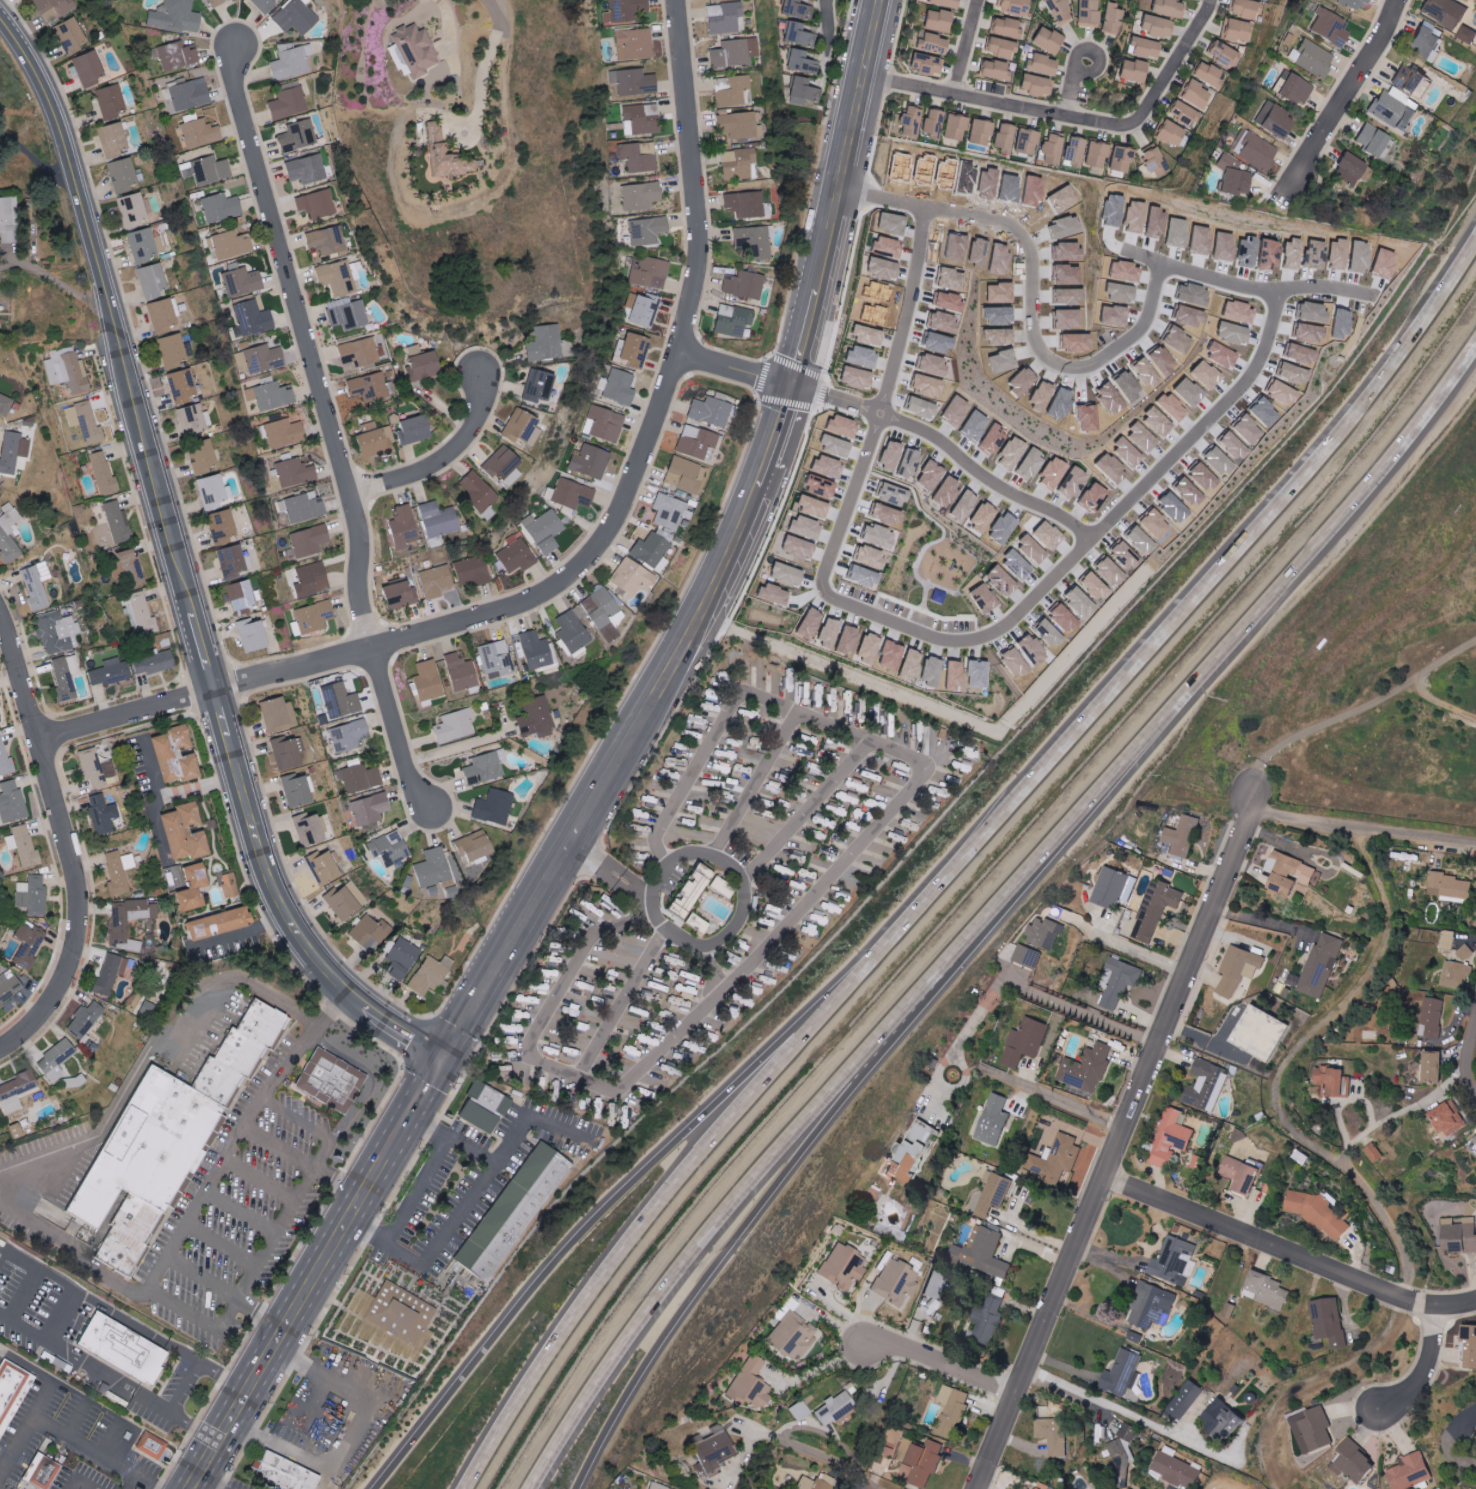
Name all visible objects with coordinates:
building: (1260, 0)
building: (218, 2)
building: (940, 3)
building: (266, 4)
building: (1350, 4)
building: (1010, 6)
building: (56, 8)
building: (1164, 8)
building: (1241, 8)
building: (797, 9)
building: (626, 11)
building: (1443, 11)
building: (1055, 12)
building: (1086, 13)
road: (827, 15)
building: (177, 17)
building: (298, 17)
building: (726, 18)
building: (1111, 20)
building: (930, 21)
road: (447, 23)
building: (1153, 27)
building: (1327, 27)
building: (1002, 28)
building: (1232, 31)
building: (800, 34)
building: (1466, 35)
building: (1042, 40)
building: (1424, 41)
building: (926, 43)
building: (636, 44)
building: (997, 47)
road: (1095, 48)
building: (1139, 48)
road: (965, 49)
building: (417, 50)
building: (734, 52)
building: (1219, 54)
building: (177, 56)
road: (488, 57)
building: (292, 61)
building: (804, 61)
road: (1171, 63)
building: (918, 64)
building: (1036, 65)
building: (89, 68)
building: (990, 70)
building: (1125, 71)
building: (1204, 74)
building: (1405, 79)
building: (635, 82)
building: (1030, 85)
building: (1292, 90)
building: (732, 91)
building: (804, 91)
road: (1071, 92)
building: (1191, 94)
building: (190, 95)
building: (111, 101)
building: (290, 103)
road: (995, 105)
road: (1340, 107)
building: (1392, 109)
building: (1179, 114)
building: (644, 118)
building: (1270, 120)
building: (904, 122)
building: (925, 124)
building: (741, 125)
building: (948, 127)
building: (973, 132)
building: (200, 133)
building: (1166, 134)
building: (299, 135)
road: (458, 138)
building: (114, 140)
building: (997, 140)
building: (1369, 140)
building: (1020, 142)
building: (1046, 150)
building: (1253, 151)
building: (1069, 152)
building: (447, 155)
building: (1091, 155)
building: (641, 157)
building: (1117, 159)
road: (34, 160)
building: (1151, 162)
building: (739, 163)
building: (308, 169)
building: (940, 169)
building: (1345, 169)
building: (207, 170)
building: (124, 175)
building: (1230, 177)
building: (945, 182)
building: (642, 196)
building: (317, 204)
building: (748, 204)
building: (133, 208)
building: (221, 208)
building: (8, 220)
building: (648, 230)
building: (329, 240)
building: (756, 240)
building: (145, 244)
building: (229, 245)
building: (884, 249)
road: (1140, 259)
road: (8, 263)
building: (650, 273)
road: (52, 277)
building: (339, 278)
building: (154, 280)
building: (242, 281)
building: (744, 285)
building: (1188, 292)
building: (644, 311)
building: (1237, 312)
building: (1312, 313)
building: (164, 314)
building: (349, 315)
building: (252, 318)
road: (903, 318)
building: (733, 320)
building: (861, 336)
building: (548, 344)
building: (633, 349)
building: (174, 350)
building: (363, 352)
building: (1221, 356)
building: (853, 357)
building: (264, 359)
building: (426, 363)
road: (1068, 364)
building: (68, 370)
road: (735, 371)
building: (1205, 376)
building: (849, 378)
building: (0, 386)
building: (184, 386)
building: (538, 386)
building: (371, 387)
building: (621, 387)
building: (1188, 393)
building: (271, 395)
building: (5, 405)
building: (1171, 408)
building: (714, 410)
building: (1263, 413)
building: (193, 420)
building: (87, 422)
building: (1157, 423)
building: (607, 424)
building: (522, 427)
building: (416, 430)
road: (334, 431)
building: (285, 434)
building: (1142, 438)
building: (374, 441)
building: (697, 443)
building: (1232, 447)
building: (13, 451)
building: (1127, 453)
road: (936, 457)
road: (446, 458)
building: (205, 460)
building: (591, 461)
building: (503, 465)
building: (1111, 470)
building: (295, 472)
building: (104, 474)
building: (684, 475)
building: (214, 491)
building: (478, 491)
building: (573, 496)
building: (305, 508)
building: (669, 512)
building: (439, 520)
building: (119, 522)
building: (224, 526)
building: (404, 527)
building: (546, 531)
building: (311, 541)
building: (652, 551)
building: (517, 558)
road: (589, 558)
road: (177, 561)
building: (235, 561)
building: (131, 568)
building: (473, 571)
building: (632, 575)
building: (313, 580)
building: (437, 582)
building: (37, 585)
road: (1190, 591)
building: (401, 594)
building: (243, 596)
road: (1019, 606)
building: (604, 613)
building: (142, 614)
building: (315, 617)
building: (57, 631)
building: (573, 631)
building: (253, 636)
building: (535, 649)
road: (1216, 653)
building: (497, 657)
building: (154, 663)
building: (757, 667)
building: (462, 671)
building: (111, 672)
building: (66, 675)
building: (428, 682)
building: (341, 700)
building: (277, 713)
road: (1349, 714)
building: (755, 715)
building: (0, 717)
building: (537, 719)
building: (456, 725)
building: (693, 732)
building: (350, 735)
building: (931, 735)
building: (183, 736)
building: (735, 742)
road: (463, 744)
building: (287, 752)
building: (972, 752)
building: (727, 753)
building: (5, 759)
building: (176, 760)
building: (793, 764)
building: (486, 766)
building: (718, 767)
building: (97, 769)
road: (152, 769)
building: (741, 769)
building: (868, 773)
road: (606, 775)
building: (782, 775)
building: (360, 778)
building: (897, 779)
building: (710, 780)
building: (732, 782)
road: (754, 783)
road: (203, 785)
building: (857, 785)
building: (776, 789)
building: (298, 790)
building: (703, 794)
building: (849, 797)
building: (728, 798)
building: (12, 802)
building: (877, 802)
building: (765, 805)
building: (783, 805)
building: (495, 806)
building: (370, 808)
building: (694, 808)
building: (715, 808)
road: (805, 808)
building: (102, 813)
building: (826, 821)
building: (849, 826)
road: (157, 827)
building: (310, 829)
road: (1362, 829)
building: (187, 831)
building: (636, 835)
building: (1185, 835)
road: (70, 843)
building: (474, 845)
building: (24, 846)
building: (390, 847)
building: (324, 867)
road: (607, 870)
building: (785, 870)
building: (120, 871)
building: (1293, 872)
building: (434, 873)
building: (853, 883)
building: (230, 885)
building: (196, 886)
building: (1116, 886)
building: (724, 887)
building: (1455, 887)
building: (694, 890)
building: (32, 895)
road: (808, 897)
building: (343, 903)
building: (1159, 908)
building: (129, 917)
road: (737, 917)
road: (1267, 920)
building: (223, 922)
building: (700, 923)
building: (371, 932)
road: (239, 933)
building: (1050, 933)
building: (1450, 939)
road: (1124, 944)
building: (28, 945)
building: (1468, 952)
building: (1031, 955)
building: (606, 956)
building: (401, 958)
building: (1324, 964)
road: (707, 968)
building: (1241, 968)
building: (111, 972)
building: (548, 972)
building: (665, 972)
building: (593, 973)
building: (431, 974)
building: (1457, 975)
building: (695, 977)
building: (1297, 979)
building: (1122, 981)
building: (586, 984)
building: (543, 986)
building: (9, 988)
building: (688, 992)
building: (578, 996)
road: (620, 1003)
building: (681, 1003)
road: (1081, 1008)
building: (267, 1011)
road: (978, 1016)
building: (1434, 1017)
building: (86, 1020)
building: (260, 1022)
building: (633, 1027)
building: (511, 1029)
building: (583, 1031)
building: (254, 1032)
building: (1265, 1032)
building: (1031, 1036)
building: (245, 1039)
building: (647, 1039)
building: (705, 1039)
road: (150, 1048)
building: (238, 1051)
building: (572, 1053)
building: (57, 1059)
road: (1469, 1062)
building: (231, 1063)
road: (1281, 1066)
building: (672, 1068)
building: (1434, 1068)
road: (966, 1069)
building: (1090, 1069)
building: (222, 1070)
road: (367, 1073)
building: (329, 1079)
building: (1338, 1079)
building: (215, 1080)
building: (1208, 1085)
building: (556, 1088)
building: (572, 1090)
building: (17, 1091)
building: (209, 1091)
road: (1046, 1093)
road: (1343, 1097)
building: (484, 1106)
building: (625, 1106)
building: (598, 1108)
road: (1401, 1109)
building: (997, 1119)
building: (1450, 1119)
building: (1174, 1137)
road: (450, 1139)
building: (146, 1146)
road: (1114, 1149)
building: (918, 1151)
building: (1377, 1152)
building: (1058, 1158)
road: (302, 1159)
building: (1245, 1173)
road: (212, 1174)
road: (260, 1176)
road: (419, 1190)
building: (998, 1191)
road: (616, 1193)
road: (472, 1195)
road: (661, 1197)
road: (241, 1208)
building: (513, 1208)
building: (139, 1209)
building: (1317, 1212)
road: (720, 1213)
road: (748, 1217)
building: (130, 1225)
road: (1025, 1225)
road: (274, 1233)
building: (1462, 1235)
road: (1028, 1242)
road: (221, 1243)
road: (1288, 1248)
building: (118, 1251)
building: (985, 1252)
road: (1109, 1256)
building: (1176, 1259)
road: (90, 1261)
building: (845, 1266)
road: (1118, 1270)
building: (896, 1281)
building: (935, 1285)
building: (1270, 1289)
road: (23, 1294)
road: (69, 1301)
building: (1156, 1305)
road: (836, 1307)
road: (1086, 1309)
building: (1233, 1309)
building: (392, 1310)
building: (990, 1316)
building: (1332, 1321)
road: (831, 1323)
building: (794, 1335)
road: (161, 1338)
building: (1472, 1342)
building: (121, 1347)
road: (938, 1359)
road: (92, 1363)
road: (1426, 1367)
road: (813, 1370)
building: (1126, 1372)
building: (15, 1375)
road: (1305, 1378)
building: (751, 1383)
road: (152, 1397)
building: (8, 1399)
road: (42, 1399)
building: (1191, 1399)
road: (169, 1407)
building: (836, 1408)
building: (954, 1409)
building: (800, 1410)
road: (1132, 1414)
road: (80, 1417)
building: (1228, 1420)
building: (3, 1421)
building: (1316, 1429)
building: (1130, 1430)
road: (347, 1432)
road: (827, 1432)
building: (1055, 1434)
road: (113, 1437)
road: (1447, 1438)
building: (150, 1444)
building: (715, 1449)
road: (95, 1451)
building: (1122, 1455)
building: (923, 1459)
road: (830, 1461)
building: (1358, 1462)
building: (1179, 1468)
building: (40, 1471)
building: (286, 1471)
building: (1413, 1471)
building: (1326, 1475)
road: (80, 1479)
road: (131, 1482)
building: (818, 1482)
road: (200, 1485)
building: (658, 1487)
building: (1040, 1488)

